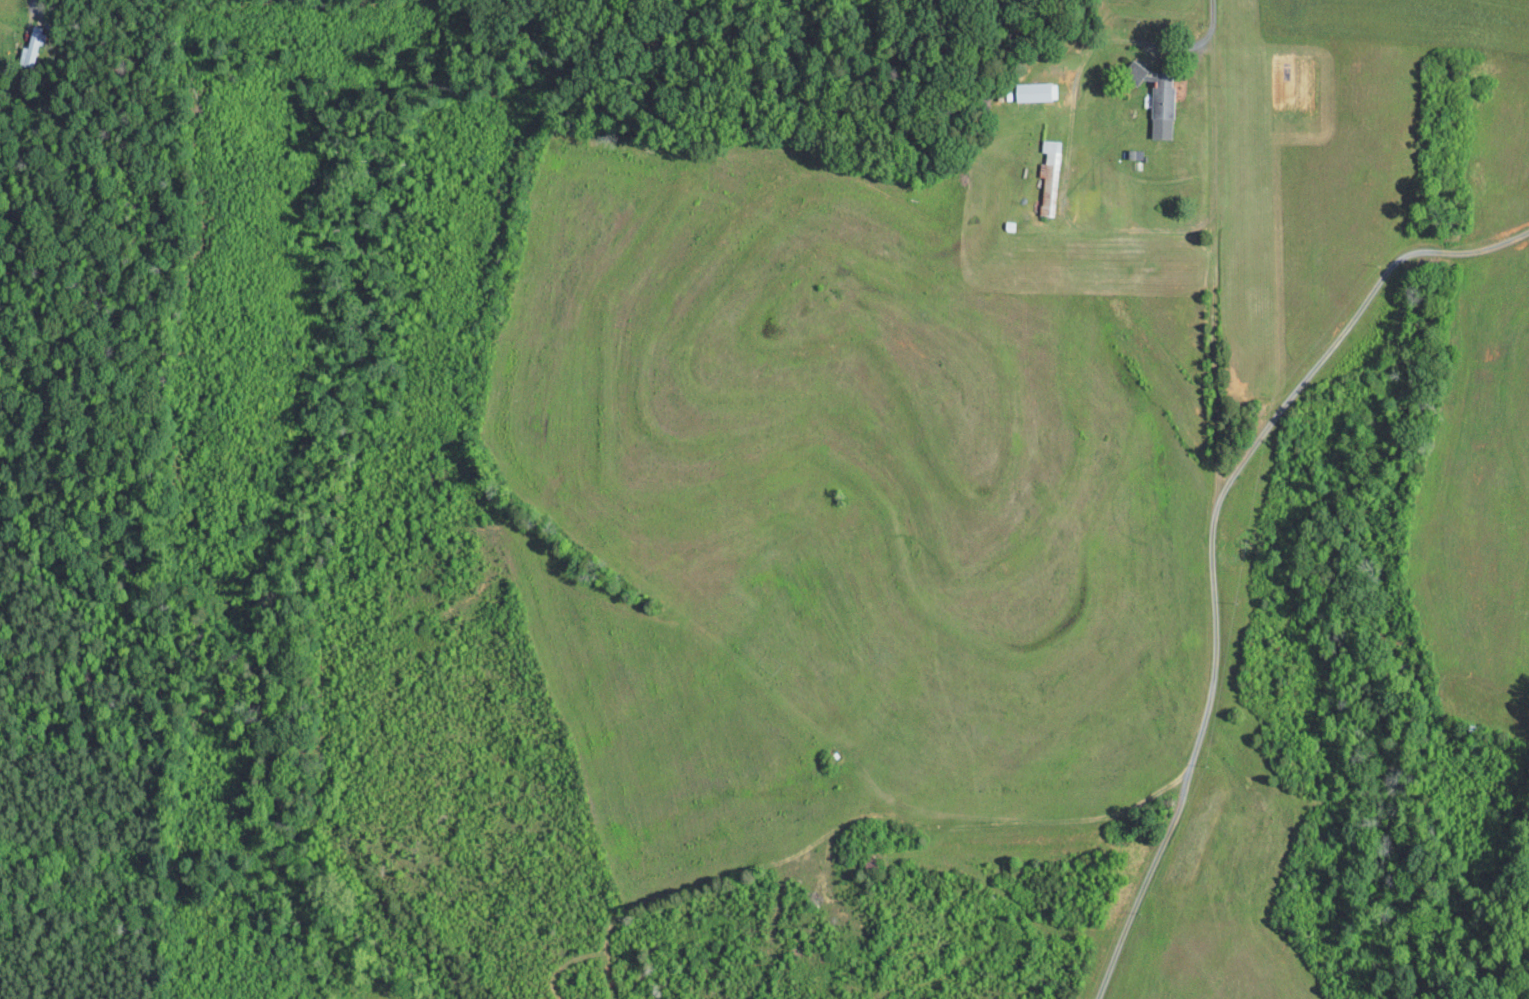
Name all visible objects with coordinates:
road: (1210, 23)
building: (1132, 71)
building: (1031, 91)
building: (1159, 107)
building: (1048, 176)

